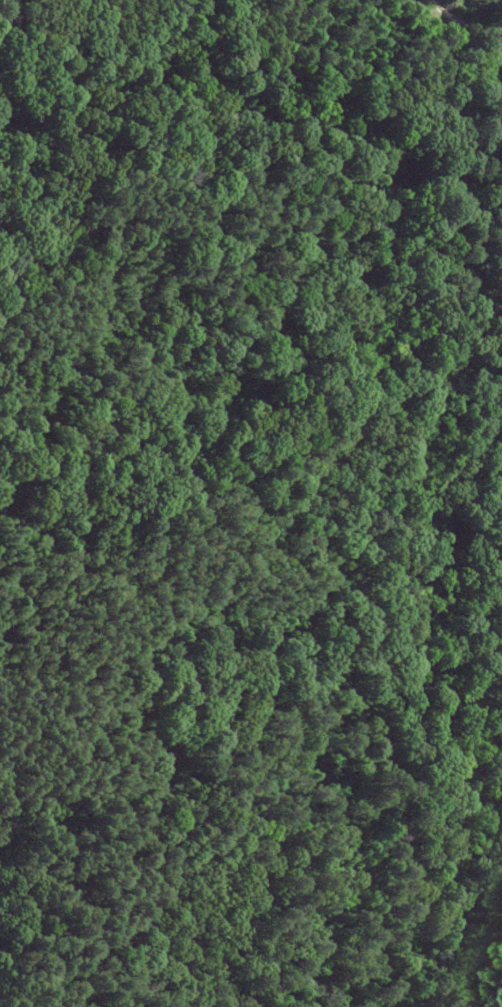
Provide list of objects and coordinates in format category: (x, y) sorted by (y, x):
road: (167, 595)

